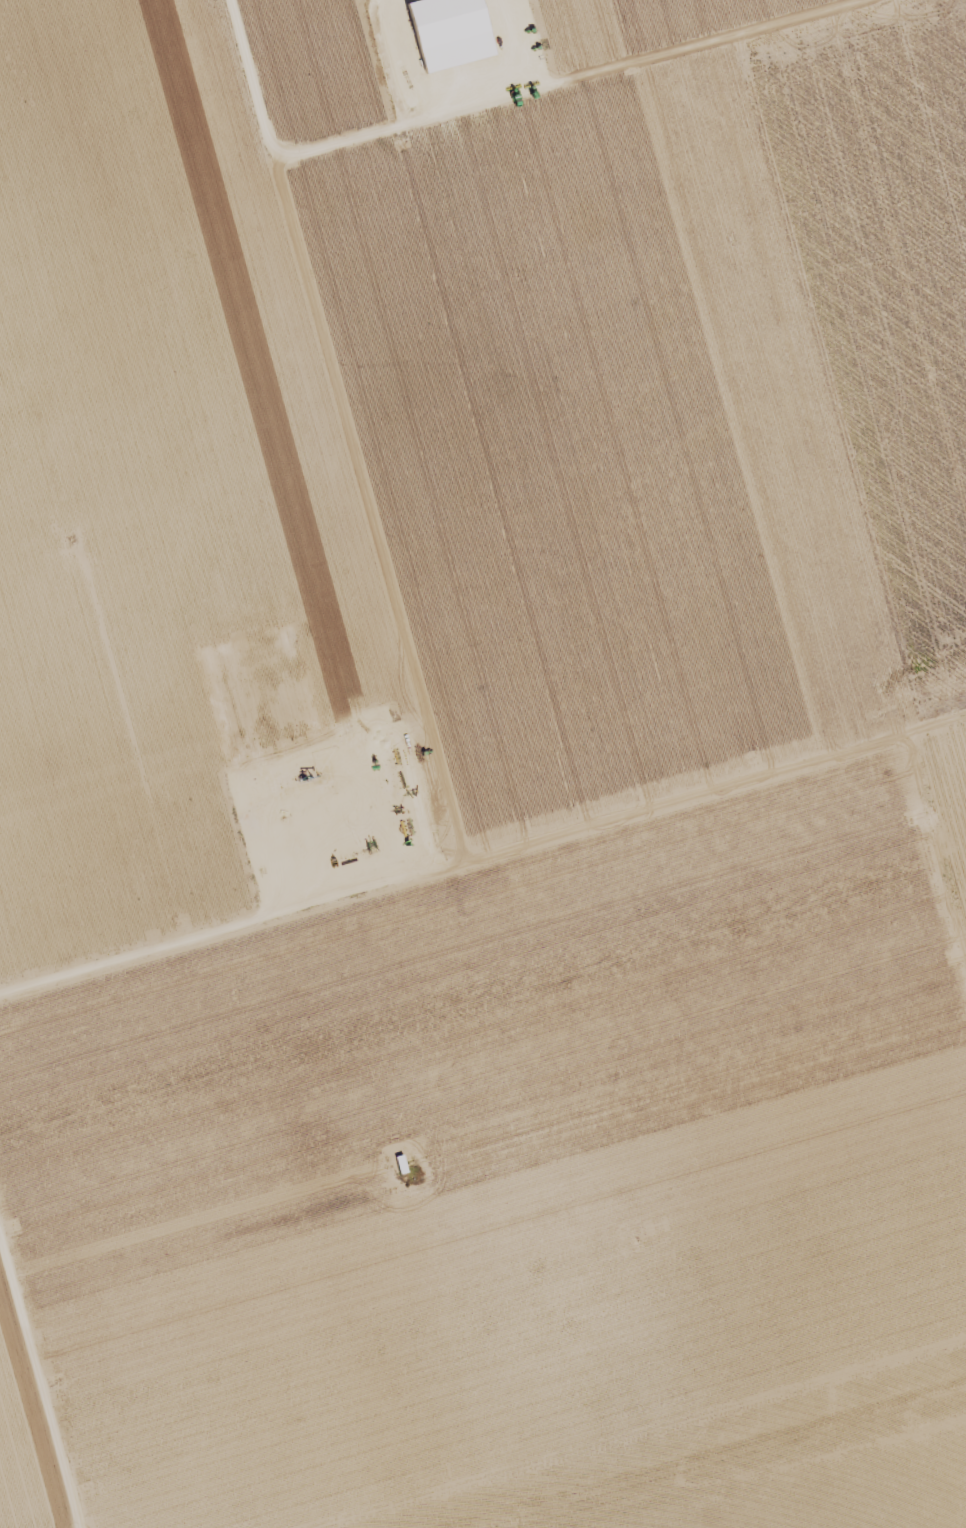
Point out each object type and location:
building: (447, 31)
road: (439, 776)
road: (509, 1072)

